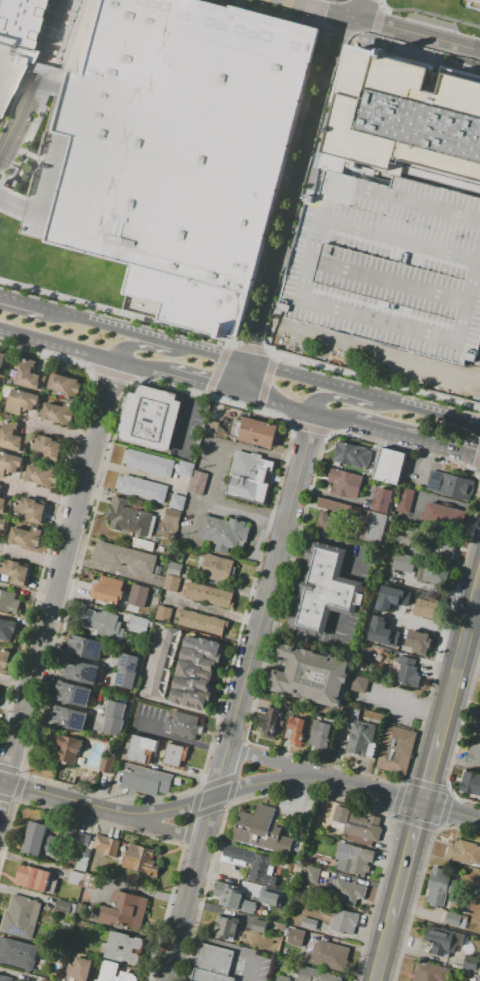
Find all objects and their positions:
building: (475, 1)
road: (381, 7)
road: (314, 8)
road: (352, 8)
road: (320, 13)
road: (428, 13)
road: (318, 20)
building: (14, 21)
road: (376, 22)
road: (321, 25)
road: (339, 31)
road: (412, 34)
road: (362, 37)
road: (372, 38)
building: (9, 68)
parking lot: (9, 68)
road: (37, 68)
road: (34, 81)
road: (23, 82)
building: (405, 120)
building: (172, 147)
parking lot: (170, 193)
road: (12, 201)
road: (291, 203)
building: (388, 266)
parking lot: (388, 266)
road: (14, 302)
road: (59, 341)
road: (176, 344)
road: (120, 358)
building: (2, 362)
road: (180, 374)
building: (29, 376)
building: (64, 385)
road: (359, 394)
road: (319, 398)
road: (276, 400)
building: (22, 401)
building: (57, 413)
road: (437, 414)
road: (332, 416)
building: (150, 418)
building: (262, 433)
building: (12, 437)
road: (414, 438)
building: (48, 448)
building: (352, 455)
building: (10, 463)
building: (148, 463)
building: (389, 466)
building: (187, 468)
building: (42, 475)
building: (250, 478)
building: (199, 482)
building: (345, 483)
building: (0, 485)
building: (450, 485)
building: (142, 488)
road: (48, 495)
building: (382, 500)
building: (405, 501)
building: (177, 502)
building: (5, 505)
building: (31, 510)
building: (173, 516)
building: (449, 517)
building: (129, 518)
building: (325, 522)
building: (2, 525)
building: (373, 527)
building: (225, 533)
building: (26, 538)
building: (142, 544)
building: (445, 546)
road: (294, 547)
road: (326, 556)
building: (125, 557)
building: (161, 559)
building: (404, 563)
road: (353, 565)
building: (174, 569)
building: (217, 569)
building: (157, 570)
building: (15, 572)
building: (432, 573)
road: (59, 580)
road: (270, 580)
road: (478, 581)
building: (171, 584)
building: (107, 589)
building: (325, 590)
building: (400, 592)
building: (138, 595)
building: (209, 595)
road: (345, 595)
building: (379, 596)
building: (9, 602)
building: (428, 612)
building: (164, 613)
road: (275, 617)
building: (200, 622)
building: (102, 623)
building: (139, 625)
road: (307, 625)
road: (336, 628)
building: (7, 629)
building: (382, 631)
building: (169, 634)
building: (419, 643)
building: (86, 648)
building: (165, 649)
building: (204, 650)
building: (4, 660)
building: (199, 660)
road: (458, 660)
building: (161, 662)
building: (127, 670)
building: (406, 671)
building: (82, 672)
building: (193, 672)
building: (158, 675)
building: (310, 675)
road: (15, 682)
building: (359, 683)
building: (193, 686)
building: (154, 688)
building: (75, 694)
building: (190, 699)
building: (479, 704)
road: (405, 706)
road: (189, 710)
building: (115, 717)
building: (70, 719)
building: (269, 722)
building: (182, 725)
building: (477, 726)
building: (296, 730)
building: (321, 735)
road: (179, 739)
building: (361, 740)
building: (70, 748)
building: (397, 750)
building: (155, 751)
building: (474, 755)
road: (280, 764)
building: (109, 765)
road: (431, 768)
road: (220, 772)
building: (145, 780)
road: (273, 782)
building: (470, 785)
road: (378, 791)
traffic signals: (423, 804)
road: (451, 811)
road: (106, 814)
road: (208, 818)
building: (359, 823)
road: (162, 829)
building: (262, 831)
building: (76, 838)
building: (38, 839)
building: (107, 846)
building: (85, 852)
building: (463, 852)
building: (141, 859)
building: (354, 859)
road: (407, 862)
building: (250, 863)
building: (314, 876)
building: (32, 877)
building: (76, 878)
building: (90, 881)
building: (439, 888)
building: (351, 891)
building: (265, 894)
building: (228, 895)
building: (63, 906)
building: (124, 910)
road: (183, 911)
building: (21, 916)
building: (339, 919)
building: (453, 922)
building: (308, 924)
building: (262, 927)
building: (226, 928)
building: (295, 937)
building: (440, 940)
building: (126, 941)
road: (226, 946)
road: (385, 951)
building: (18, 954)
building: (122, 955)
building: (327, 955)
building: (213, 964)
building: (469, 966)
building: (80, 970)
building: (430, 972)
building: (479, 972)
building: (115, 973)
building: (315, 975)
building: (5, 978)
building: (282, 978)
building: (47, 980)

